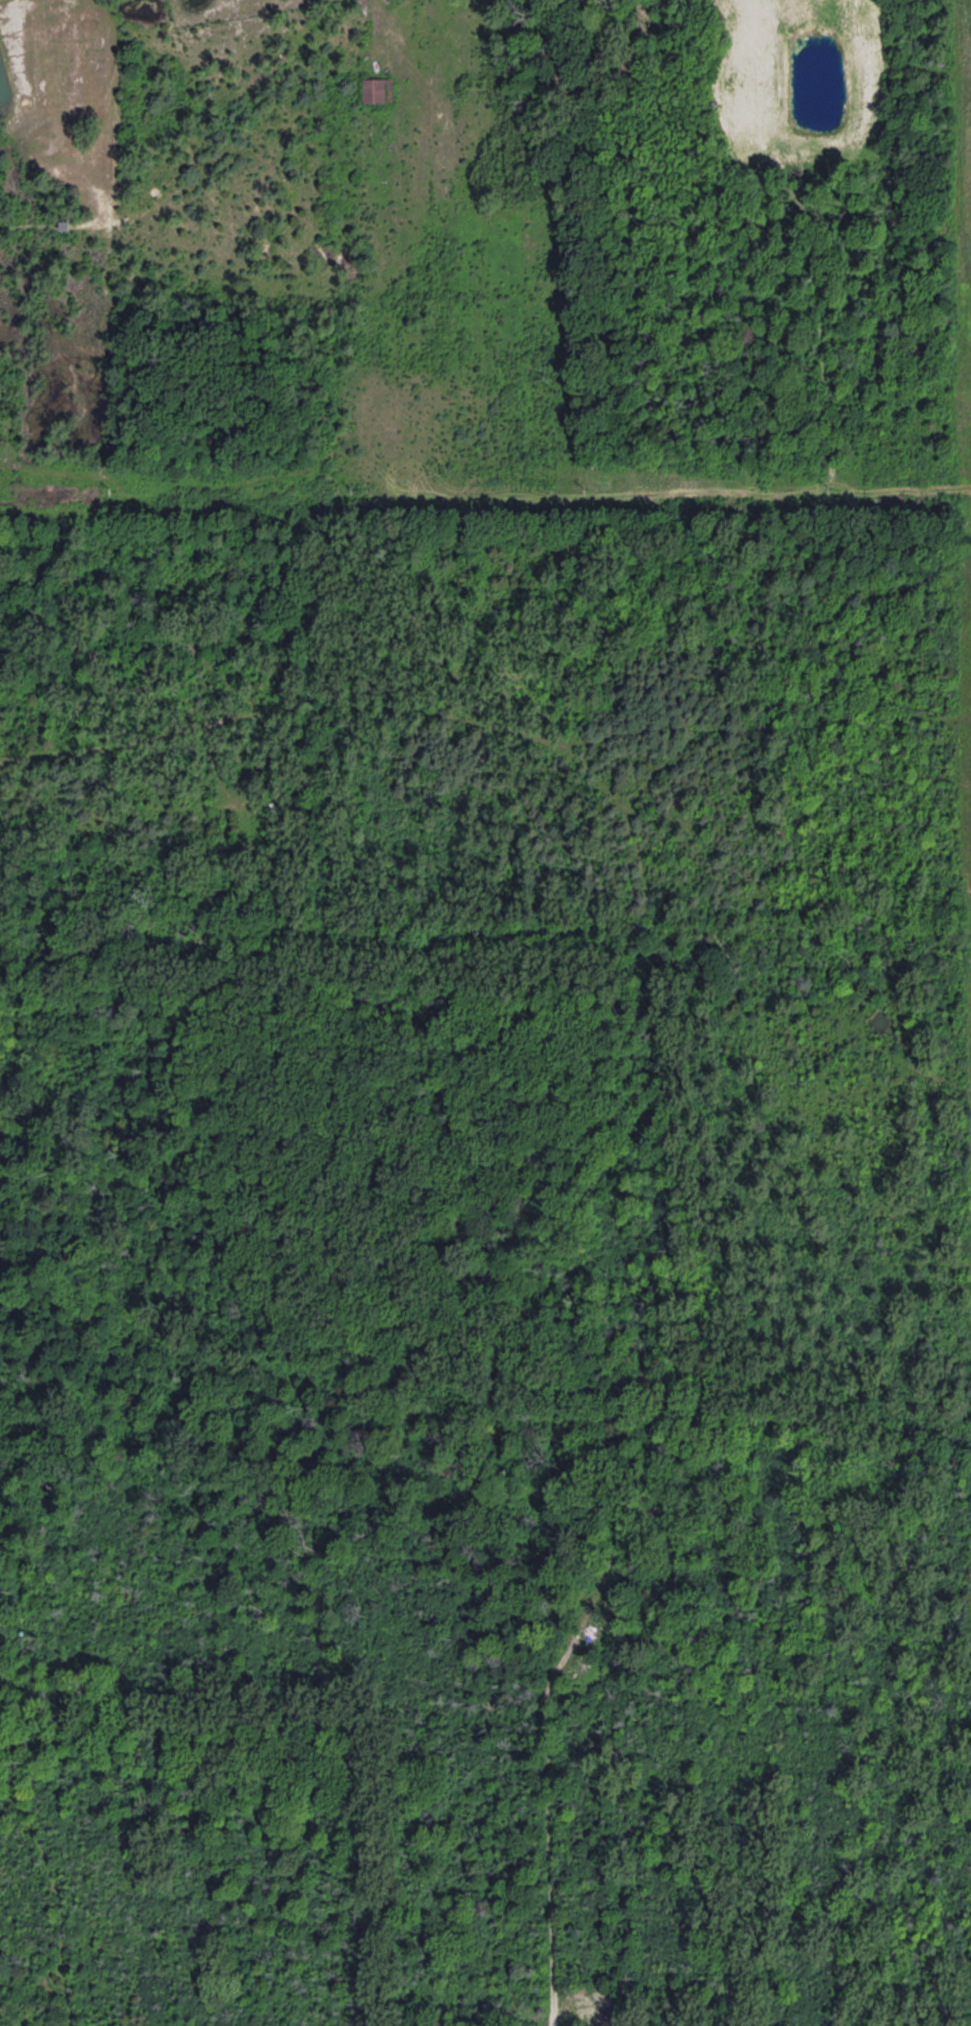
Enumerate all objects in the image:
building: (377, 90)
road: (548, 1835)

